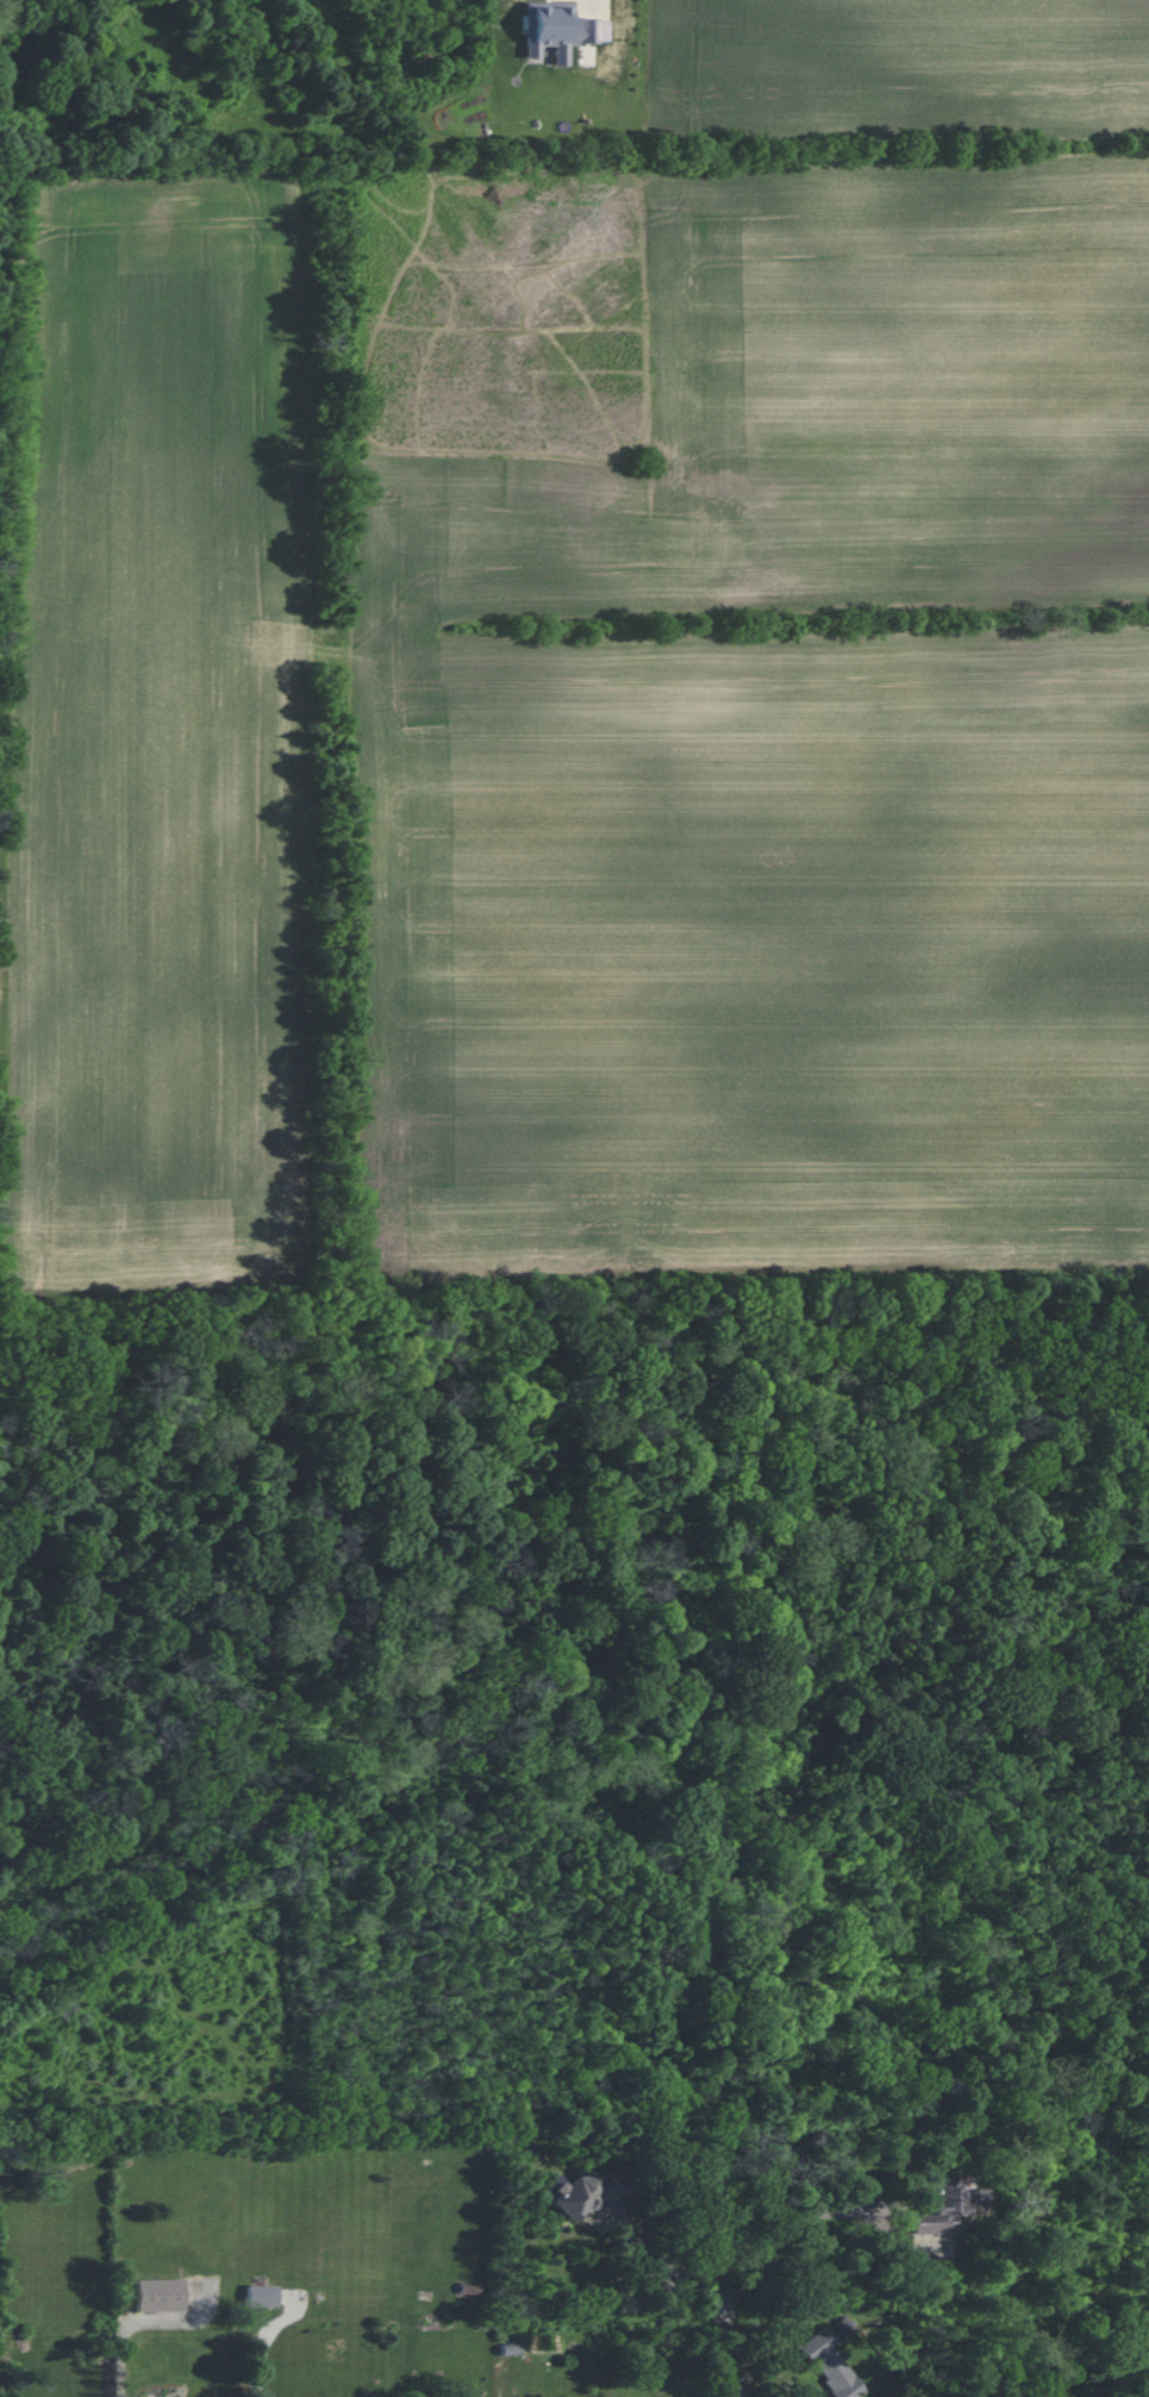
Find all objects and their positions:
building: (557, 30)
crop: (897, 67)
crop: (156, 716)
crop: (781, 749)
building: (598, 2189)
building: (942, 2206)
road: (882, 2210)
road: (831, 2216)
road: (663, 2249)
building: (160, 2297)
building: (264, 2297)
road: (151, 2322)
road: (269, 2332)
road: (737, 2345)
building: (105, 2348)
building: (832, 2365)

